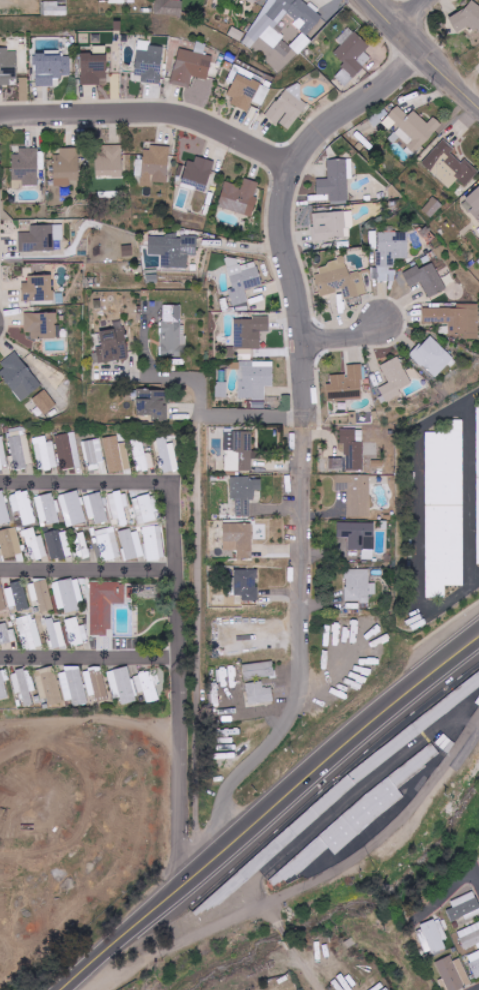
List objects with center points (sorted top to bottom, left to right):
building: (169, 7)
building: (54, 9)
road: (416, 14)
building: (468, 16)
building: (267, 22)
road: (426, 52)
building: (351, 55)
building: (149, 62)
building: (8, 66)
building: (190, 67)
building: (51, 68)
building: (94, 69)
building: (245, 88)
building: (289, 106)
road: (152, 117)
building: (413, 127)
building: (110, 162)
building: (156, 165)
building: (26, 166)
building: (66, 166)
building: (449, 166)
building: (198, 173)
building: (336, 180)
building: (240, 197)
road: (287, 203)
building: (474, 203)
building: (432, 207)
building: (333, 225)
building: (42, 238)
building: (173, 251)
building: (391, 253)
building: (426, 279)
building: (339, 280)
building: (242, 282)
building: (38, 288)
building: (455, 319)
building: (41, 325)
building: (173, 332)
building: (250, 332)
road: (346, 342)
building: (112, 346)
building: (432, 356)
building: (19, 376)
building: (394, 379)
building: (256, 381)
building: (347, 384)
building: (222, 389)
building: (44, 402)
building: (152, 402)
road: (208, 415)
building: (20, 448)
building: (353, 448)
building: (68, 451)
building: (239, 451)
building: (93, 453)
building: (45, 454)
building: (2, 455)
building: (116, 455)
building: (167, 455)
building: (142, 457)
building: (336, 463)
building: (478, 465)
road: (172, 486)
building: (244, 493)
building: (356, 493)
building: (119, 506)
building: (446, 506)
building: (23, 507)
building: (97, 508)
building: (4, 509)
building: (47, 509)
building: (72, 509)
building: (147, 509)
building: (359, 537)
building: (478, 538)
building: (239, 539)
building: (154, 542)
building: (58, 544)
building: (108, 544)
building: (132, 544)
building: (35, 545)
building: (80, 545)
building: (11, 547)
road: (90, 573)
building: (246, 584)
building: (359, 586)
building: (42, 595)
building: (68, 595)
building: (17, 597)
building: (2, 599)
building: (104, 605)
building: (29, 632)
building: (54, 632)
building: (76, 632)
building: (7, 635)
road: (299, 653)
road: (91, 659)
building: (259, 670)
building: (3, 684)
building: (24, 685)
building: (49, 685)
building: (122, 685)
building: (73, 686)
building: (146, 686)
building: (259, 693)
building: (226, 726)
building: (79, 744)
road: (185, 771)
building: (36, 803)
road: (271, 811)
building: (350, 824)
road: (478, 880)
road: (288, 894)
road: (446, 898)
building: (463, 908)
road: (274, 917)
road: (285, 931)
building: (435, 935)
building: (470, 936)
building: (474, 963)
road: (304, 964)
building: (453, 974)

